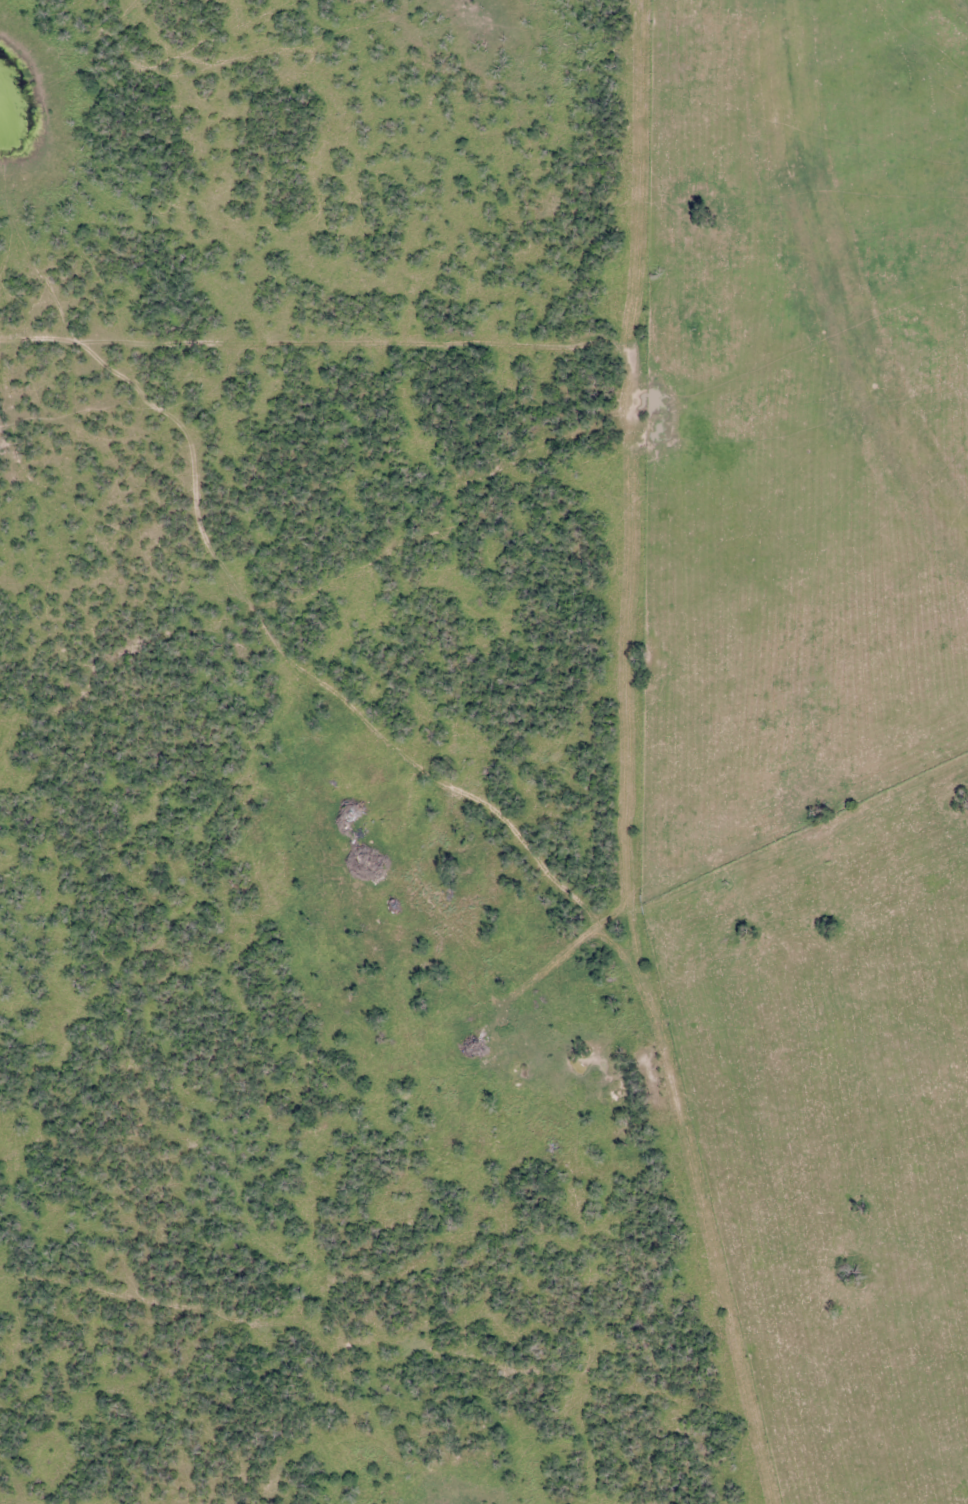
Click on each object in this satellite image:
road: (409, 720)

